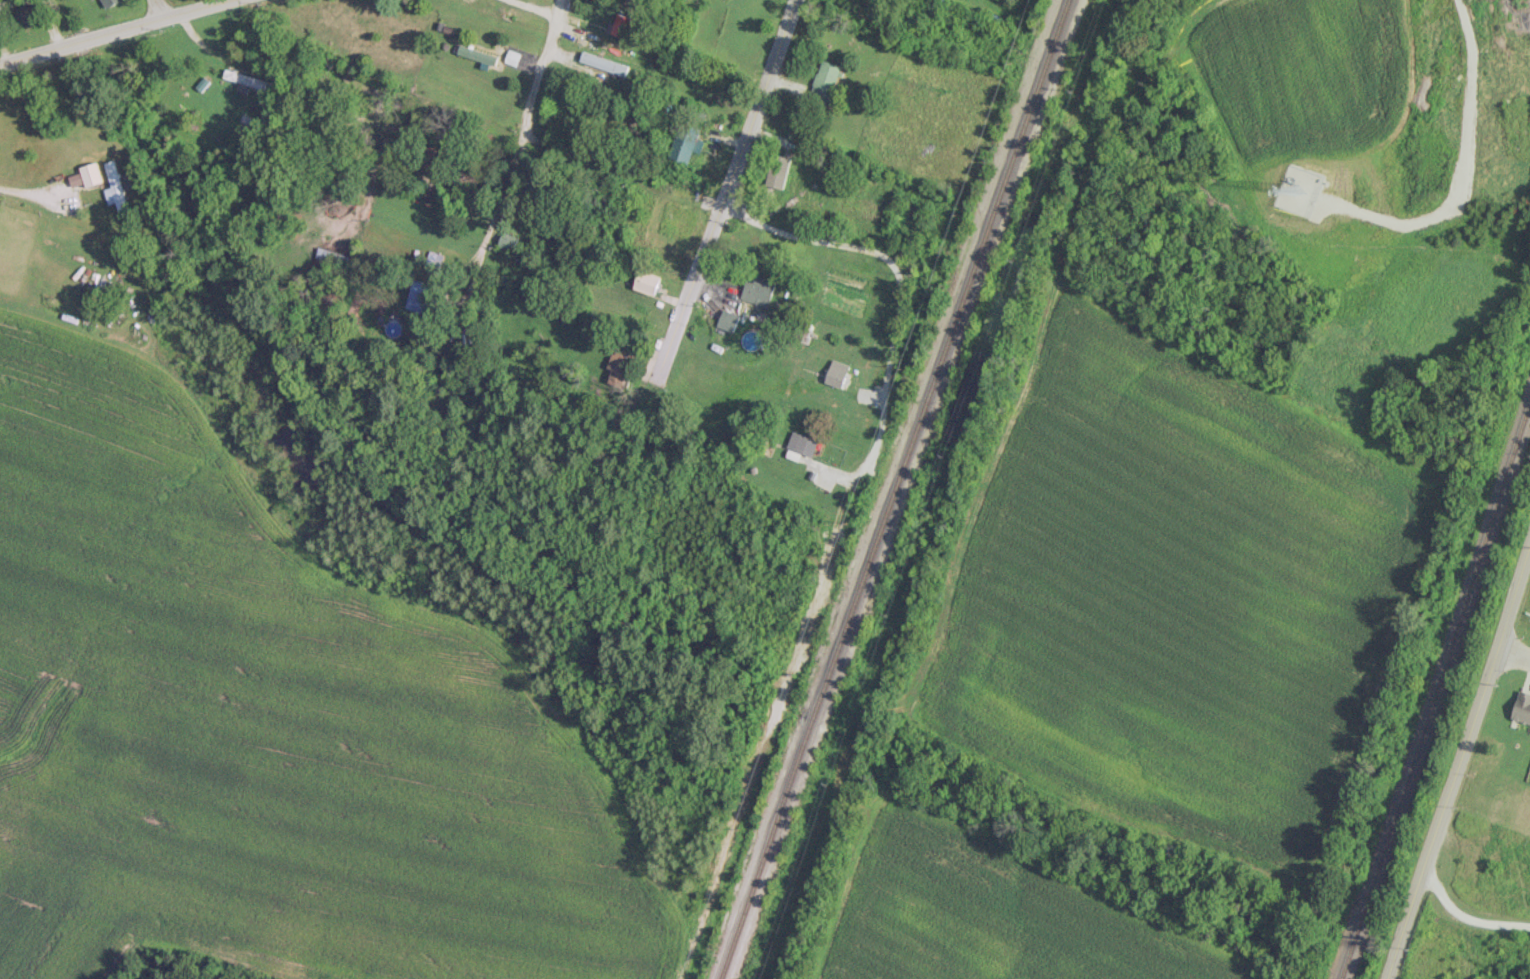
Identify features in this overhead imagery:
building: (109, 2)
road: (156, 9)
road: (529, 9)
building: (25, 13)
building: (624, 26)
road: (115, 31)
road: (6, 50)
building: (478, 55)
building: (603, 63)
building: (242, 77)
building: (825, 80)
building: (685, 143)
road: (509, 170)
building: (91, 174)
building: (115, 186)
road: (26, 192)
road: (726, 206)
building: (508, 241)
building: (647, 282)
building: (758, 289)
building: (419, 296)
building: (727, 319)
building: (619, 365)
building: (836, 373)
road: (661, 374)
road: (426, 387)
road: (880, 406)
building: (802, 443)
railway: (893, 489)
road: (1512, 656)
railway: (1435, 690)
building: (1522, 707)
road: (1458, 759)
road: (1467, 919)

